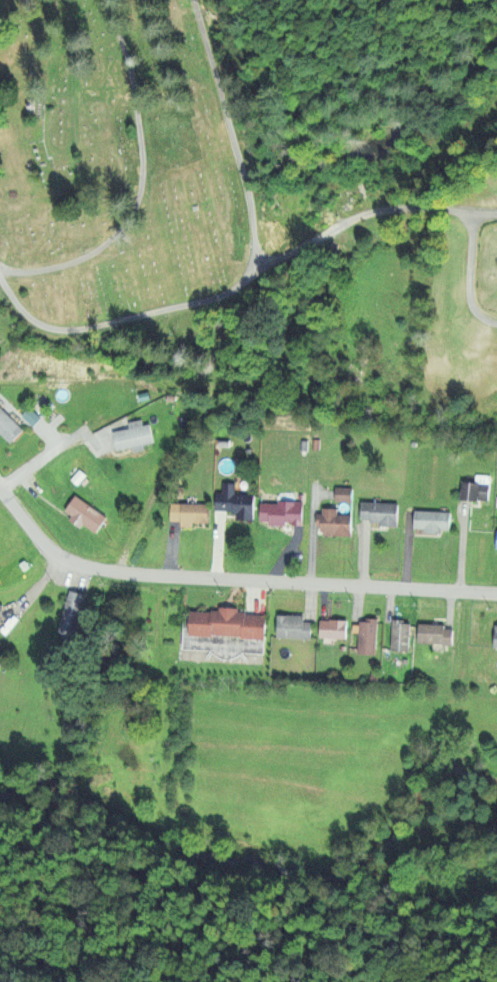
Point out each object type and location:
road: (109, 4)
road: (233, 136)
road: (427, 158)
park: (110, 159)
road: (145, 188)
road: (486, 212)
road: (470, 274)
road: (237, 289)
building: (11, 423)
building: (136, 438)
building: (477, 490)
building: (345, 493)
building: (238, 501)
building: (284, 511)
building: (383, 511)
building: (87, 512)
building: (197, 512)
building: (432, 520)
building: (335, 521)
building: (496, 542)
road: (231, 586)
building: (1, 607)
building: (74, 612)
building: (232, 621)
building: (294, 625)
building: (336, 628)
building: (372, 632)
building: (437, 632)
building: (402, 635)
building: (496, 636)
building: (0, 655)

